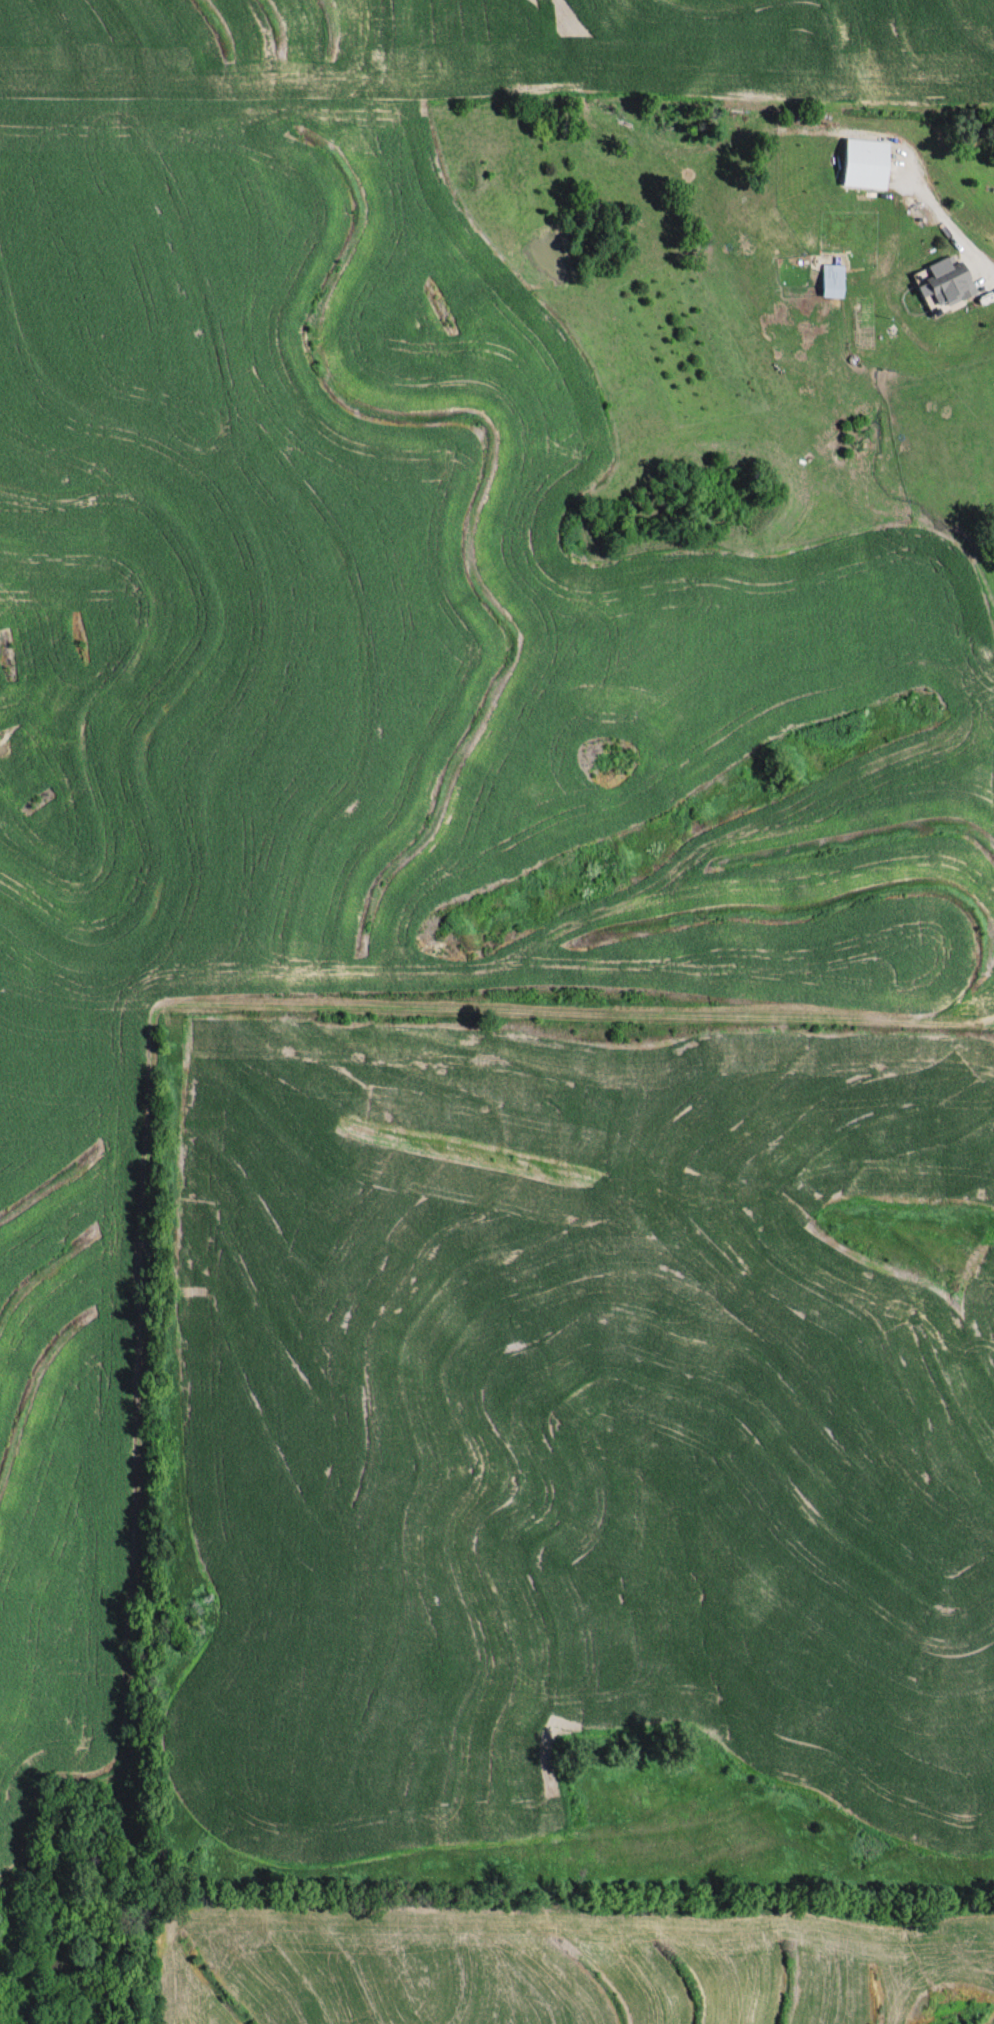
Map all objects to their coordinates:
building: (860, 162)
building: (829, 278)
building: (946, 283)

